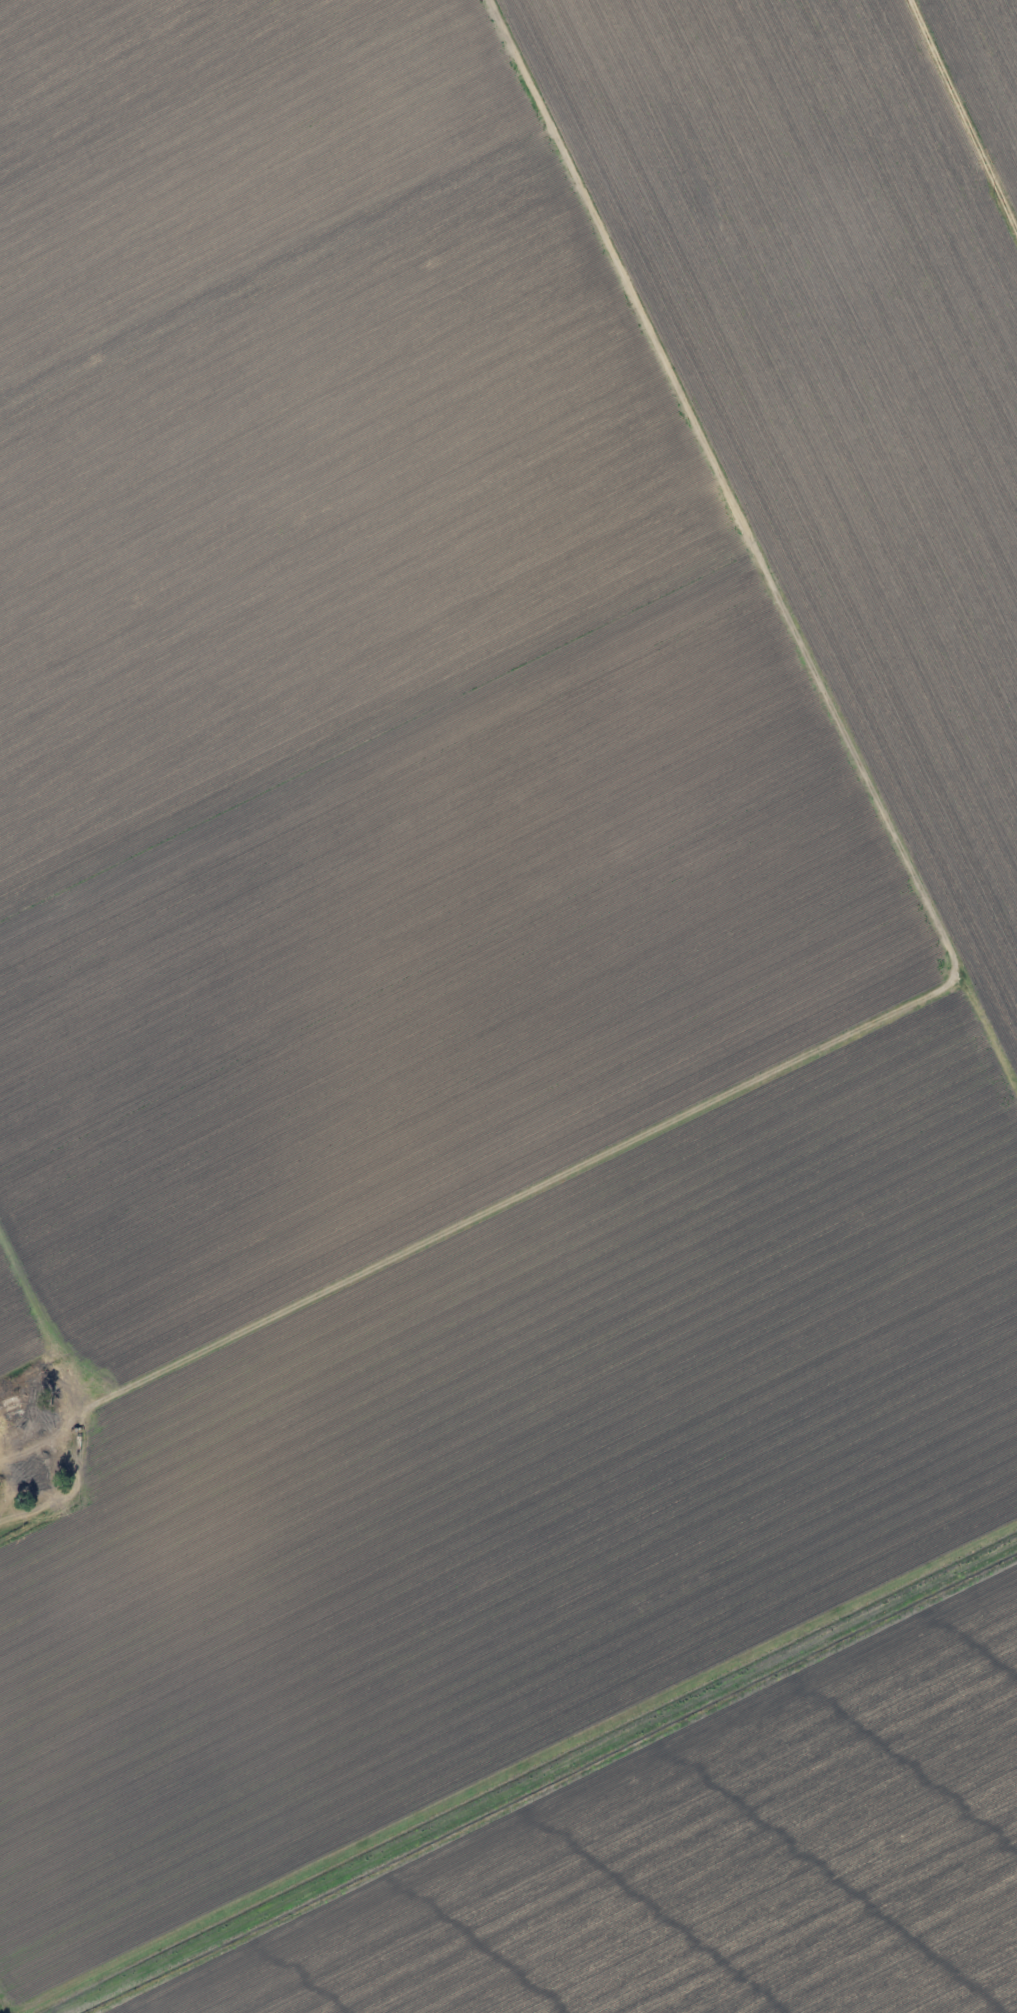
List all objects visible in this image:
building: (8, 1407)
building: (28, 1470)

